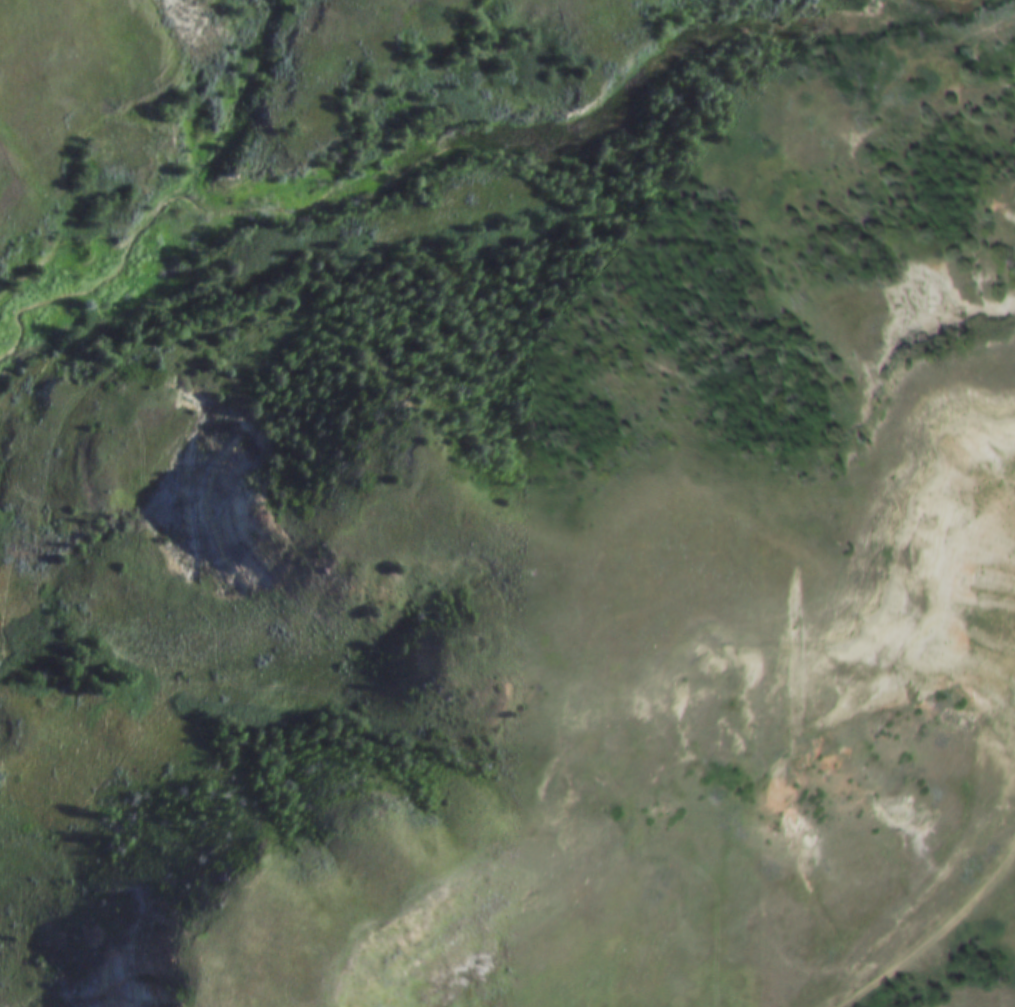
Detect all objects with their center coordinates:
road: (193, 42)

